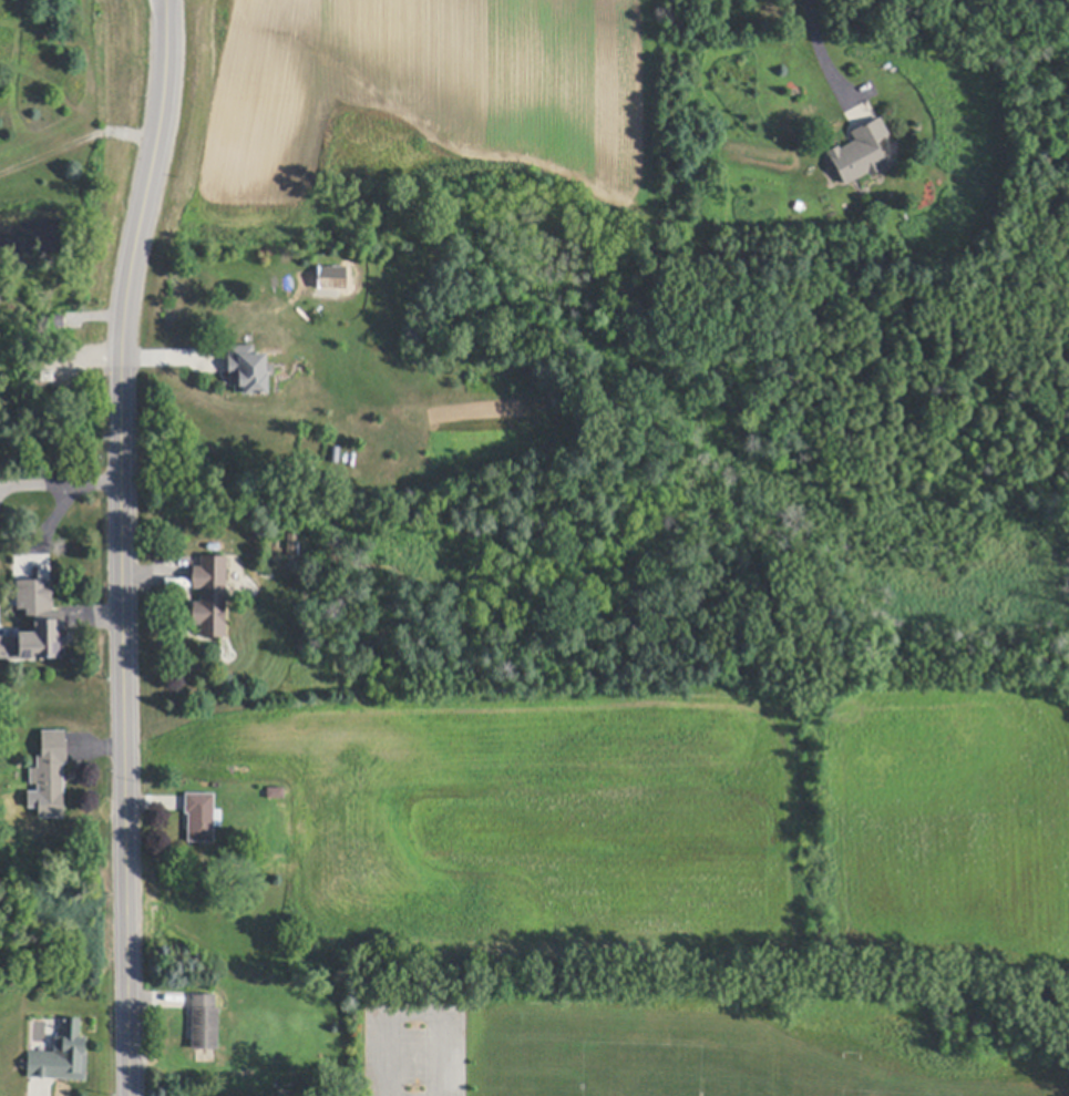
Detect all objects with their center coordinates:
road: (821, 49)
crop: (417, 131)
road: (76, 141)
building: (860, 154)
building: (58, 322)
building: (248, 370)
building: (48, 377)
road: (119, 545)
building: (291, 545)
building: (32, 594)
building: (210, 596)
building: (43, 637)
building: (51, 775)
building: (276, 793)
building: (202, 818)
crop: (662, 830)
road: (419, 1011)
building: (205, 1024)
park: (697, 1036)
parking lot: (414, 1046)
building: (62, 1057)

